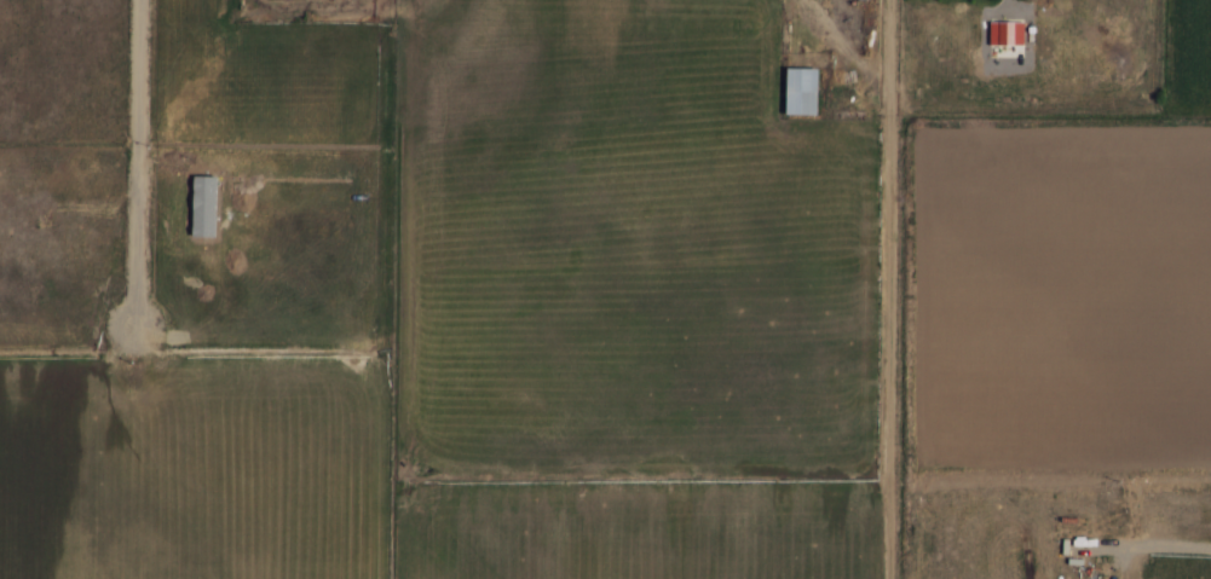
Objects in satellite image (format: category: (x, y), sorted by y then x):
building: (802, 91)
road: (852, 273)

